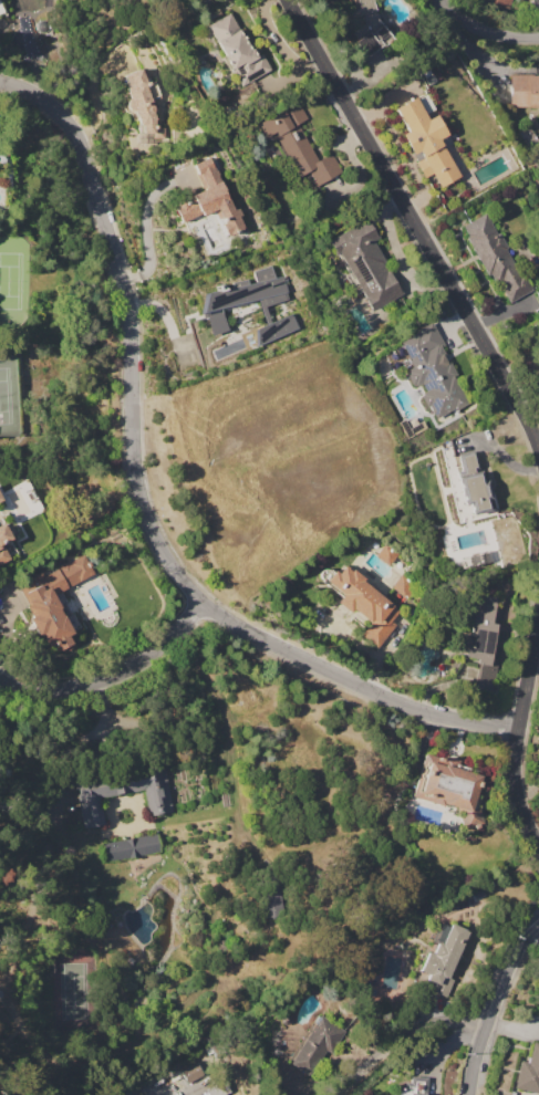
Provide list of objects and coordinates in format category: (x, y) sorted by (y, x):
building: (332, 0)
building: (499, 3)
building: (1, 9)
building: (367, 29)
road: (484, 35)
building: (237, 51)
building: (524, 90)
building: (139, 100)
building: (426, 140)
building: (298, 144)
building: (210, 200)
road: (415, 222)
road: (147, 236)
building: (496, 257)
building: (365, 263)
building: (265, 277)
building: (273, 294)
road: (128, 326)
building: (152, 357)
building: (431, 369)
building: (474, 482)
building: (1, 496)
building: (6, 532)
building: (3, 554)
building: (386, 554)
building: (403, 585)
building: (51, 598)
building: (364, 604)
building: (481, 637)
road: (104, 676)
road: (352, 682)
road: (516, 730)
building: (452, 788)
building: (123, 792)
building: (132, 847)
building: (269, 900)
building: (442, 960)
road: (494, 1004)
road: (403, 1036)
building: (315, 1045)
building: (191, 1072)
building: (529, 1072)
building: (412, 1086)

